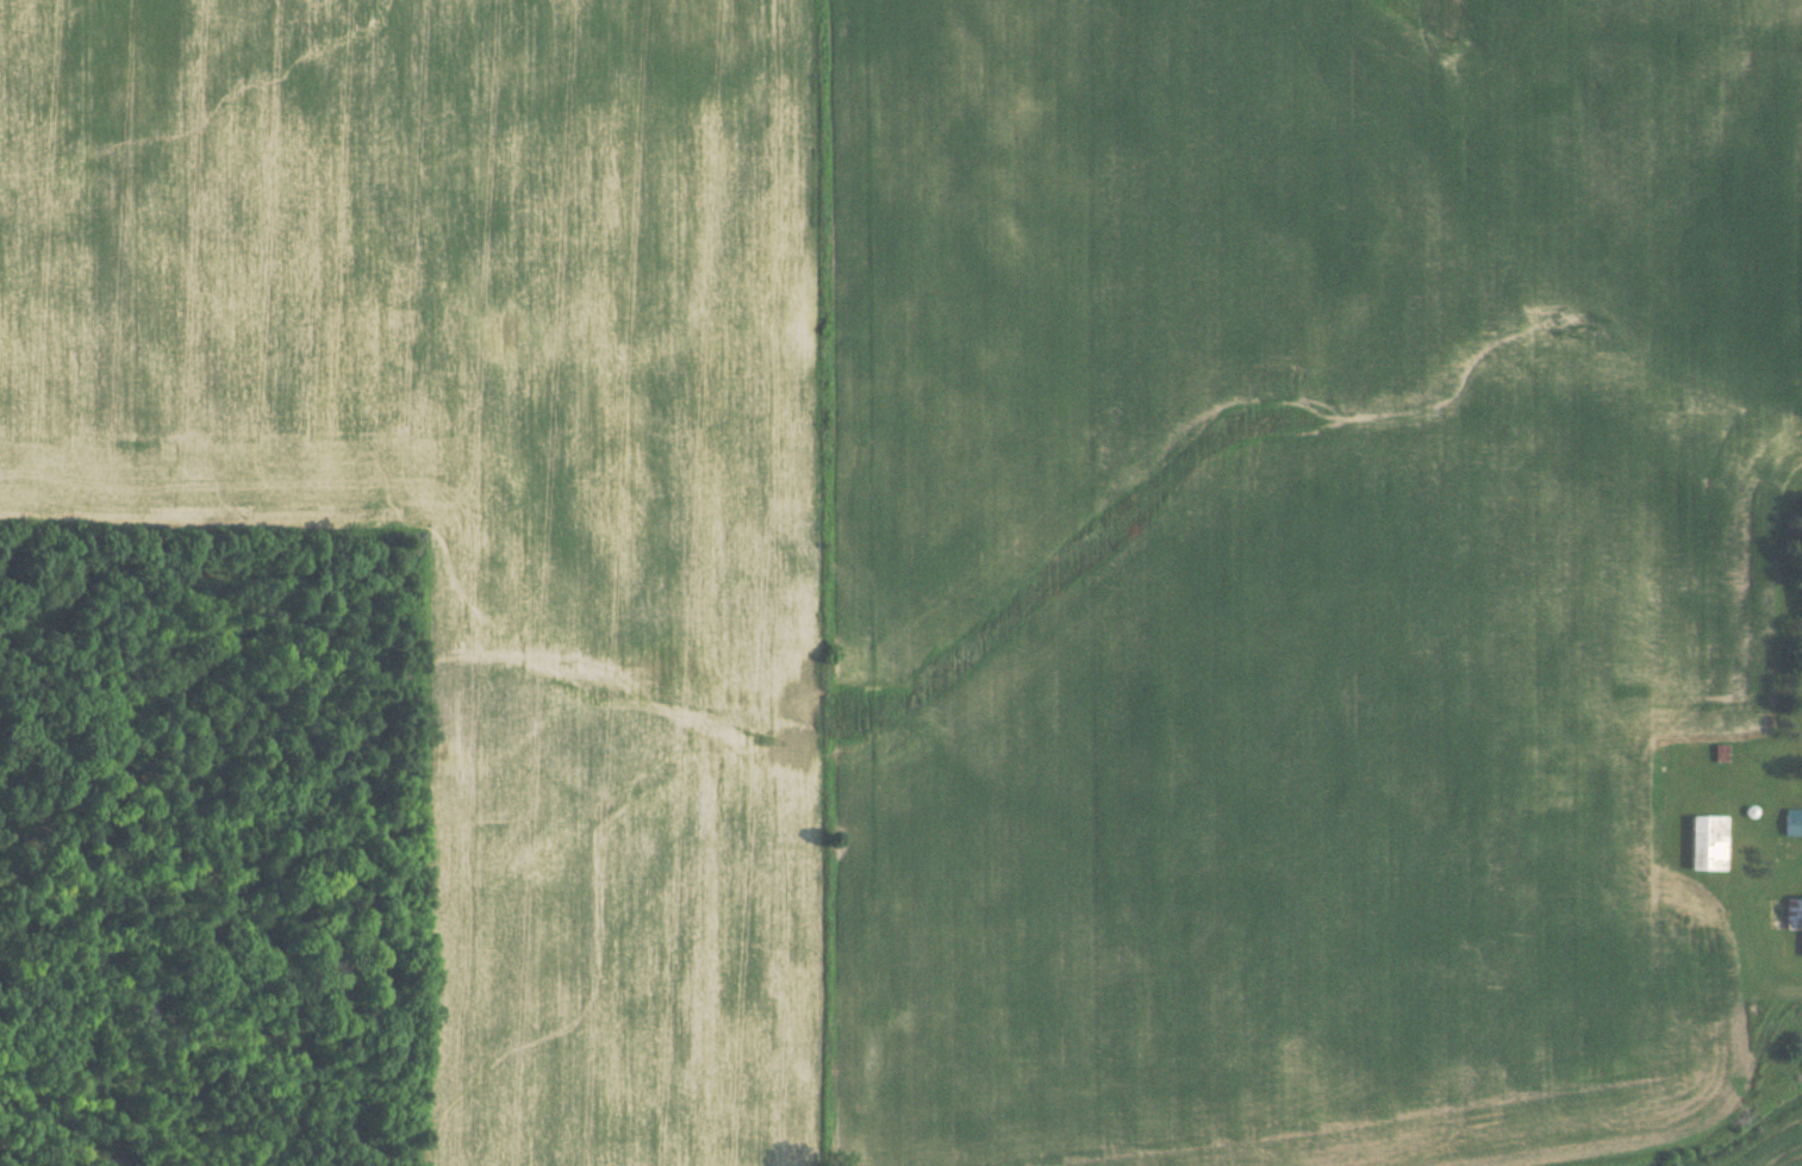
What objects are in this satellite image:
building: (1792, 821)
building: (1708, 842)
building: (1794, 912)

